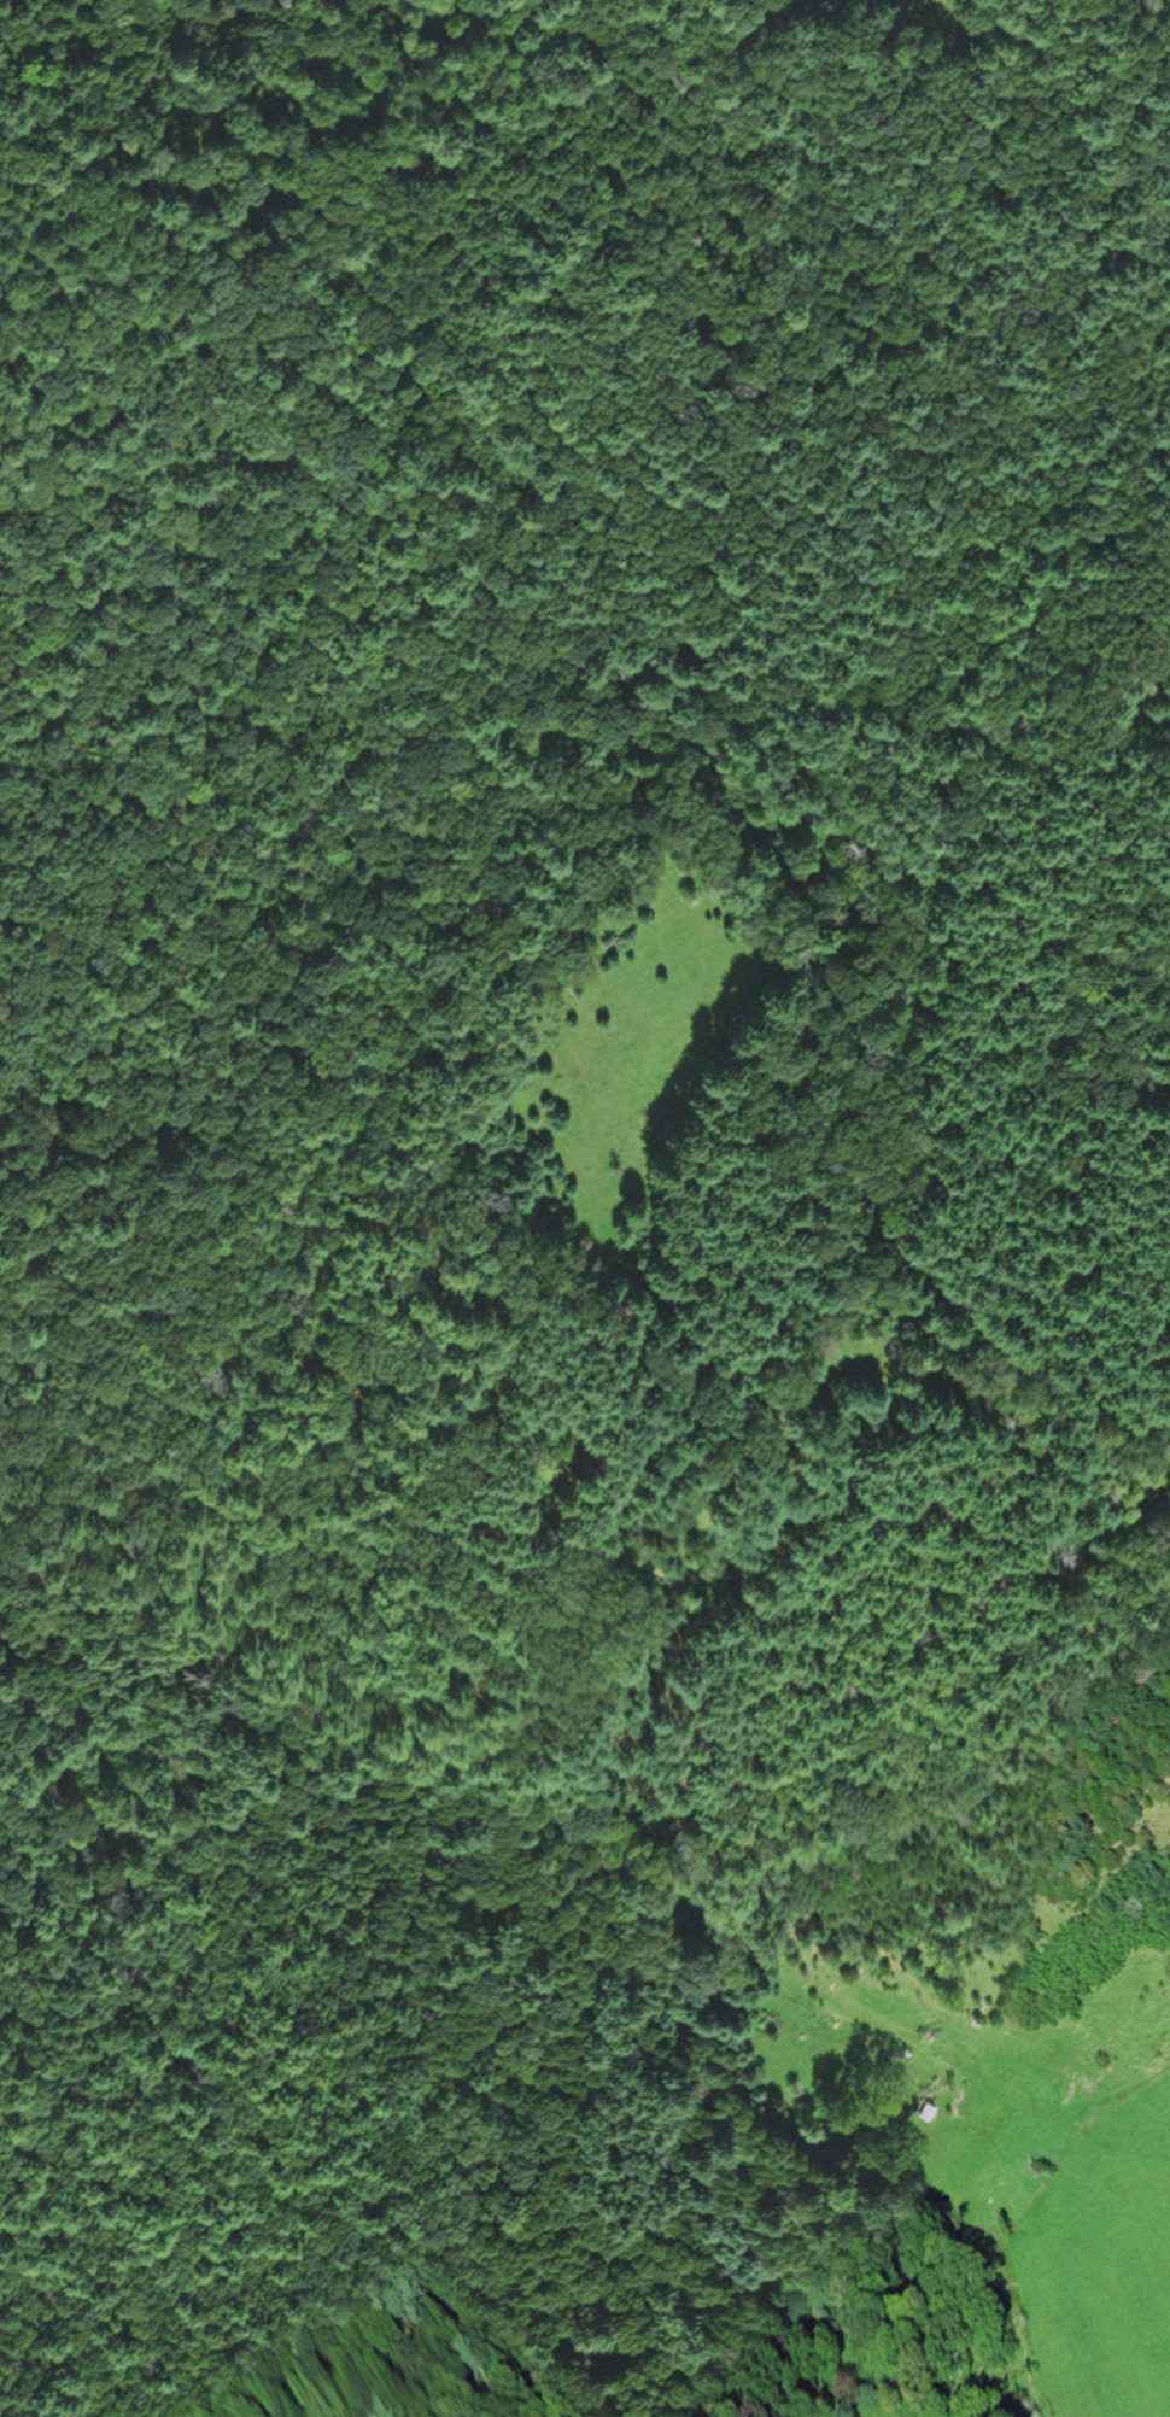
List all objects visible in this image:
building: (926, 2108)
building: (1002, 2191)

